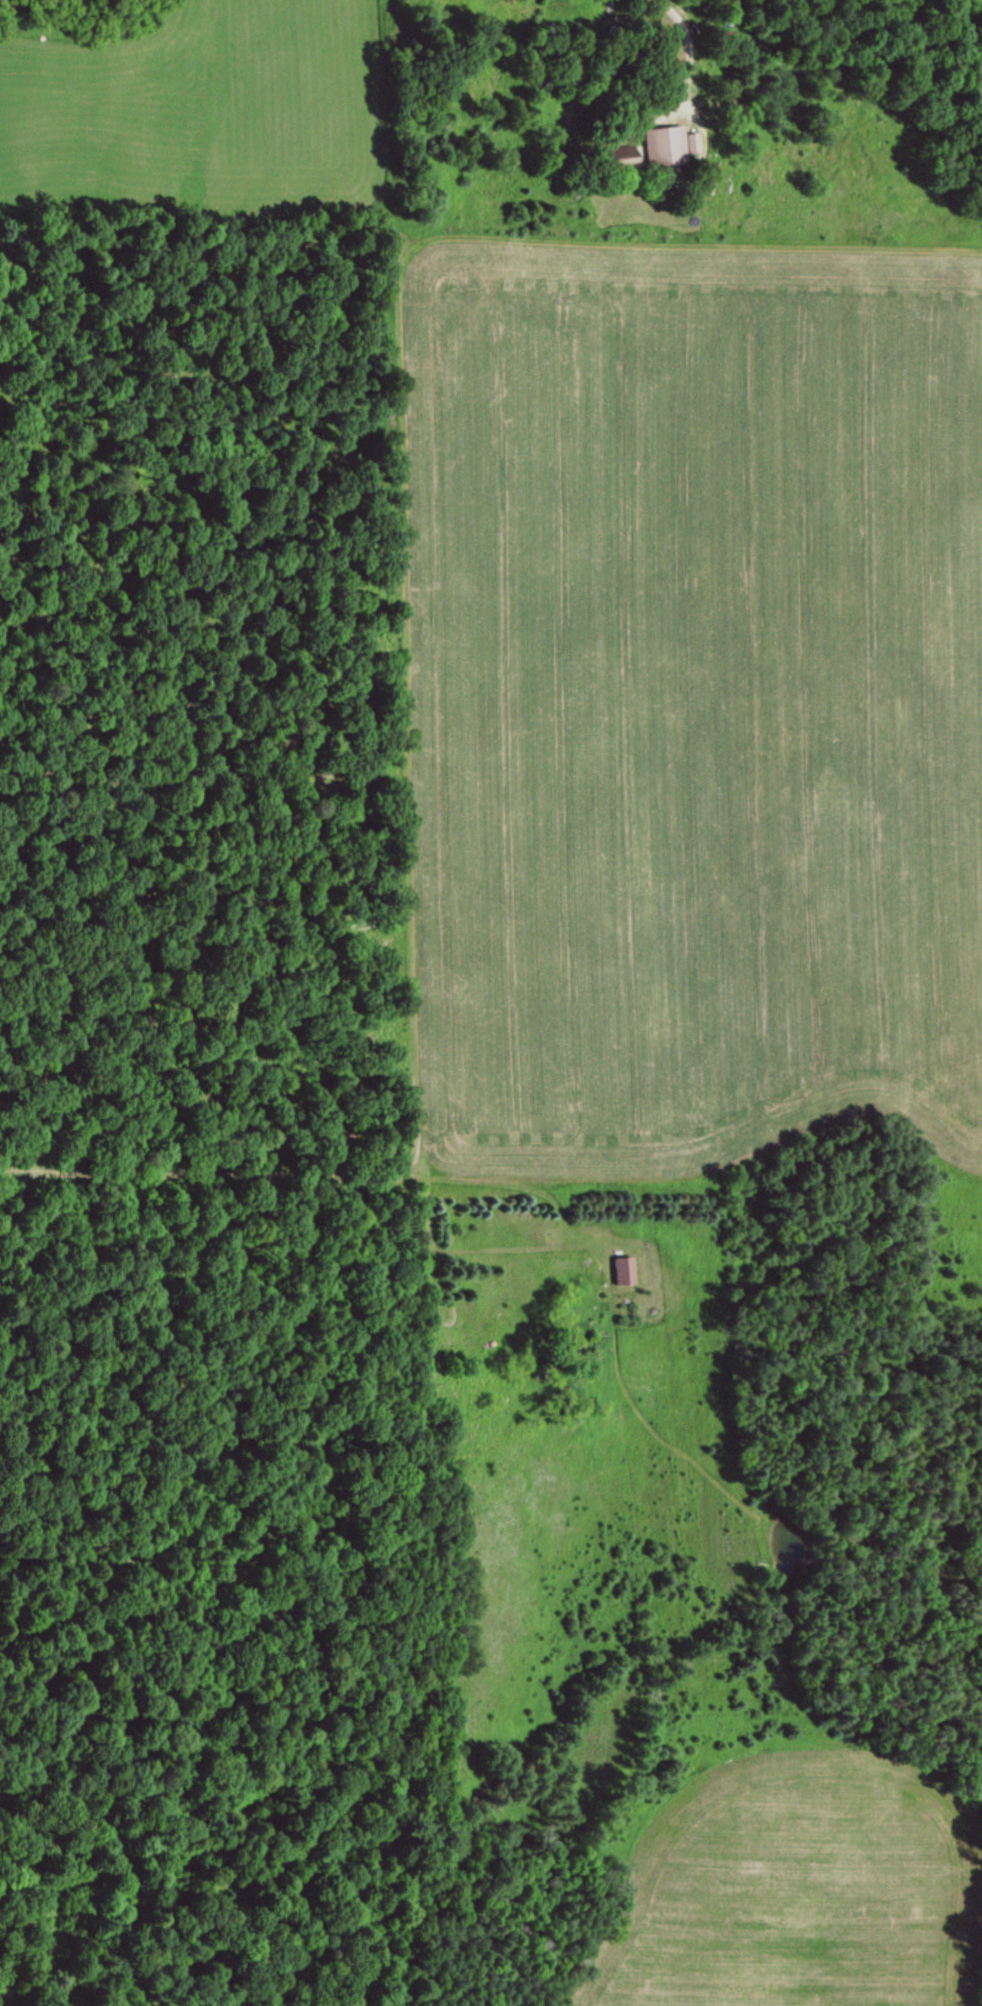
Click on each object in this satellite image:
road: (690, 45)
building: (670, 148)
building: (626, 158)
road: (195, 1181)
building: (626, 1271)

